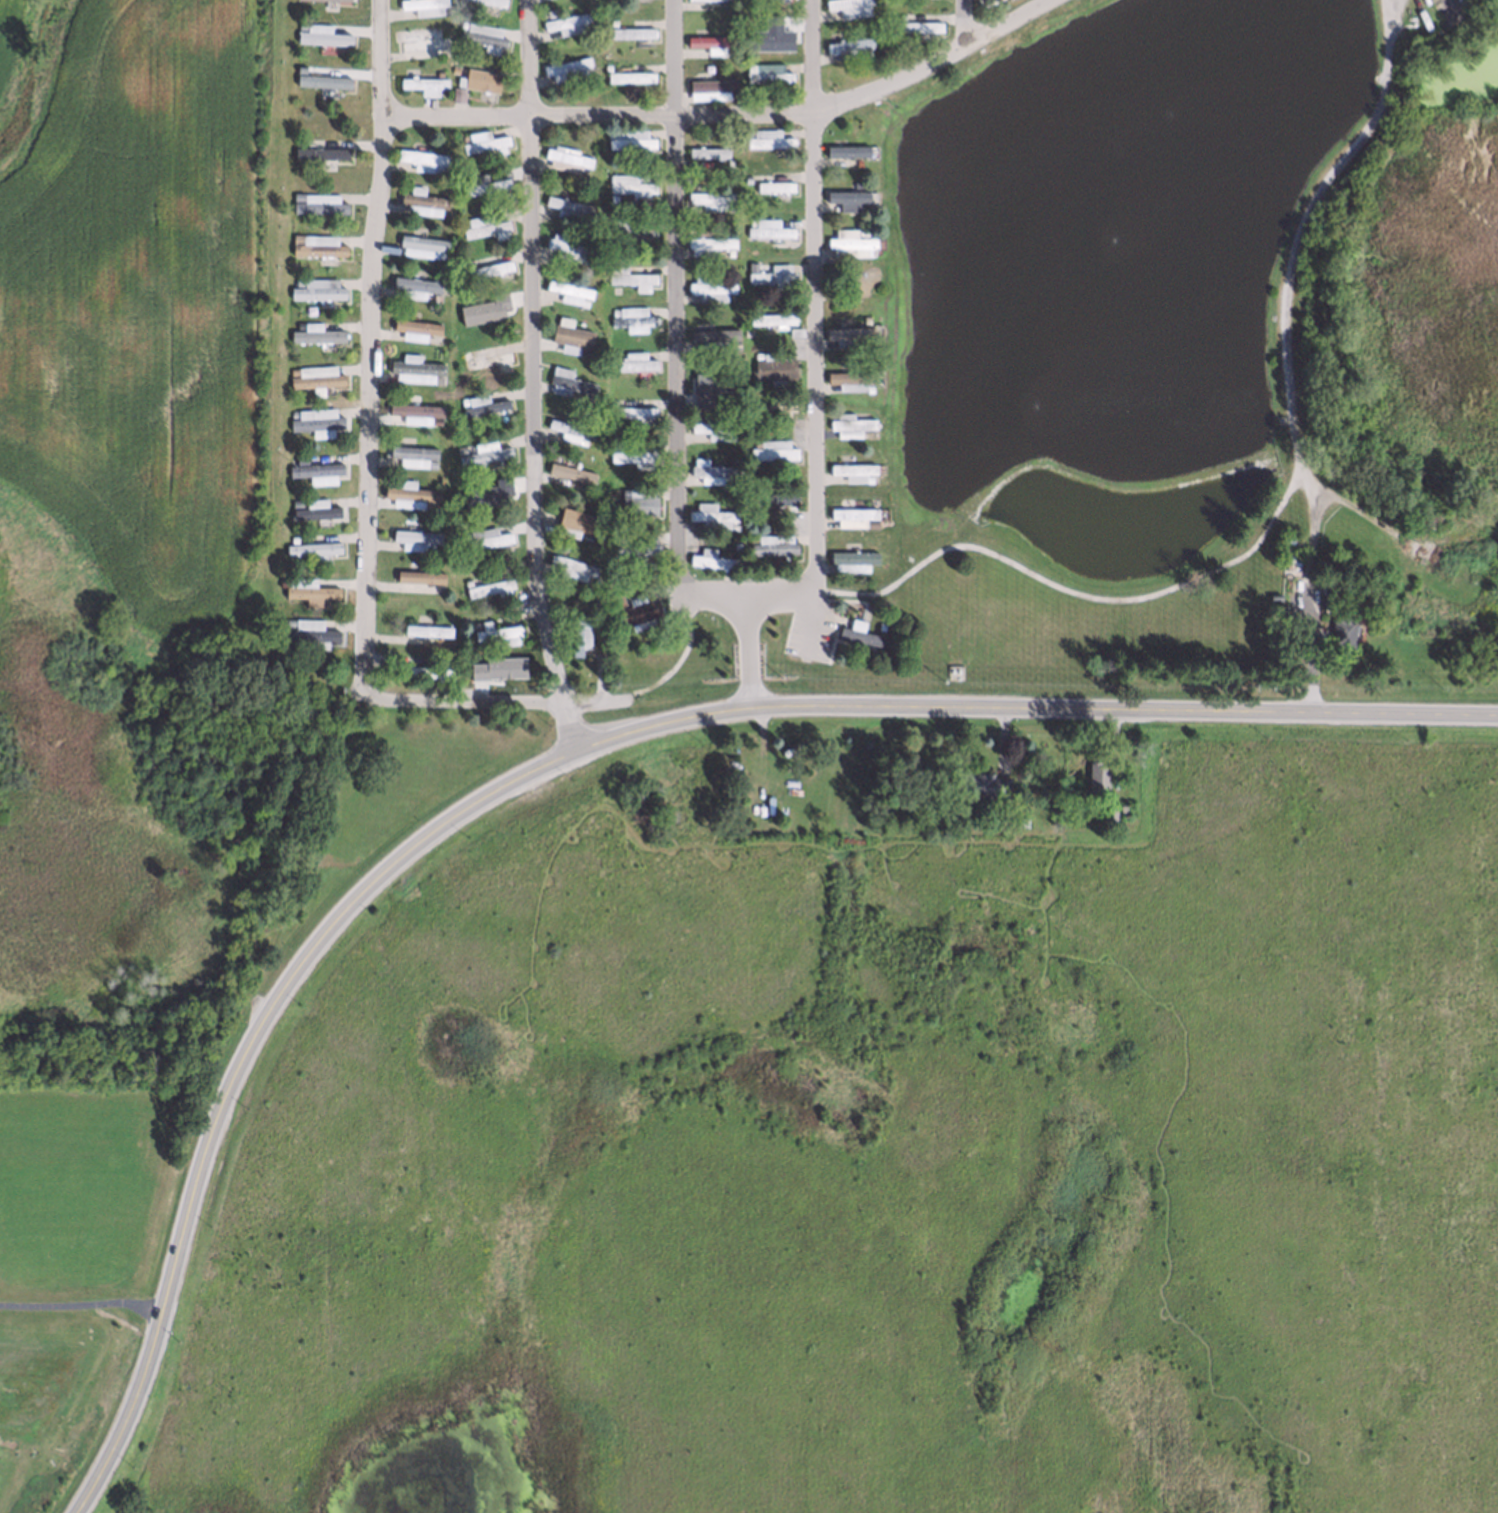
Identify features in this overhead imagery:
building: (332, 0)
building: (713, 0)
building: (982, 0)
building: (492, 1)
building: (988, 1)
building: (423, 4)
building: (727, 4)
building: (845, 5)
building: (447, 9)
building: (900, 17)
building: (567, 18)
building: (612, 20)
building: (458, 21)
building: (301, 22)
road: (962, 25)
building: (917, 26)
building: (322, 30)
building: (768, 30)
building: (630, 32)
building: (481, 36)
building: (418, 37)
building: (708, 40)
building: (775, 40)
building: (847, 43)
building: (726, 49)
building: (865, 53)
road: (533, 57)
building: (561, 63)
building: (749, 64)
building: (453, 67)
building: (437, 70)
building: (587, 70)
building: (477, 76)
building: (629, 76)
building: (768, 76)
building: (323, 77)
building: (423, 80)
building: (712, 84)
building: (456, 91)
road: (732, 115)
building: (608, 129)
building: (462, 135)
building: (483, 137)
building: (630, 138)
building: (768, 138)
building: (297, 139)
building: (321, 149)
building: (848, 151)
building: (707, 152)
building: (422, 155)
building: (565, 155)
building: (728, 162)
building: (849, 164)
building: (442, 167)
building: (582, 168)
building: (746, 177)
building: (482, 180)
building: (859, 181)
building: (774, 182)
building: (630, 185)
building: (297, 193)
building: (612, 195)
building: (849, 196)
building: (421, 197)
building: (712, 198)
building: (320, 200)
building: (566, 202)
building: (730, 206)
building: (445, 213)
building: (750, 219)
building: (460, 220)
building: (485, 223)
building: (630, 229)
building: (862, 229)
building: (769, 231)
building: (296, 234)
building: (319, 242)
building: (420, 242)
building: (850, 242)
building: (707, 244)
building: (566, 245)
building: (437, 252)
building: (730, 252)
building: (462, 261)
building: (750, 263)
building: (487, 265)
building: (491, 270)
building: (773, 275)
building: (629, 277)
building: (298, 279)
building: (413, 283)
building: (318, 286)
building: (567, 288)
building: (710, 289)
building: (433, 295)
building: (729, 297)
building: (582, 299)
building: (462, 304)
building: (613, 309)
building: (485, 310)
building: (866, 316)
building: (770, 317)
building: (632, 318)
building: (497, 319)
building: (299, 322)
building: (413, 325)
road: (680, 326)
road: (817, 328)
building: (795, 329)
building: (317, 330)
building: (569, 333)
building: (848, 334)
building: (712, 337)
road: (1282, 345)
road: (374, 350)
building: (585, 350)
building: (466, 353)
building: (612, 353)
building: (487, 358)
building: (632, 360)
building: (774, 364)
building: (413, 366)
building: (293, 369)
building: (316, 374)
building: (435, 377)
building: (565, 378)
building: (850, 379)
building: (710, 381)
building: (736, 387)
building: (706, 390)
building: (588, 395)
building: (612, 399)
building: (482, 402)
building: (771, 407)
building: (413, 409)
building: (292, 411)
building: (633, 411)
building: (866, 414)
building: (317, 419)
building: (434, 419)
building: (570, 425)
building: (850, 425)
building: (711, 428)
road: (534, 434)
building: (584, 440)
building: (756, 440)
building: (611, 444)
building: (459, 447)
building: (773, 449)
building: (632, 451)
building: (411, 452)
building: (483, 453)
building: (300, 457)
building: (429, 462)
building: (315, 466)
building: (709, 469)
building: (569, 471)
building: (851, 471)
building: (734, 479)
building: (756, 486)
building: (588, 487)
building: (464, 489)
building: (407, 491)
building: (484, 492)
building: (772, 497)
building: (295, 500)
building: (638, 504)
building: (432, 505)
building: (316, 507)
building: (852, 512)
building: (711, 515)
building: (571, 520)
building: (868, 522)
building: (734, 526)
building: (464, 533)
building: (485, 535)
building: (582, 535)
building: (751, 536)
building: (292, 537)
building: (414, 537)
building: (618, 538)
building: (772, 543)
building: (736, 544)
building: (312, 546)
building: (435, 546)
building: (634, 549)
building: (710, 557)
building: (849, 559)
building: (571, 565)
building: (865, 566)
building: (417, 574)
building: (594, 578)
building: (284, 579)
building: (465, 580)
building: (490, 585)
building: (439, 586)
building: (309, 588)
building: (1273, 595)
building: (595, 596)
building: (1325, 598)
building: (617, 600)
building: (1281, 609)
building: (638, 611)
road: (821, 613)
building: (288, 620)
building: (473, 623)
building: (880, 624)
building: (425, 627)
building: (311, 630)
building: (496, 630)
building: (1341, 630)
building: (578, 632)
building: (862, 633)
building: (429, 658)
road: (749, 658)
building: (507, 663)
building: (428, 669)
building: (493, 674)
road: (475, 702)
road: (1036, 710)
building: (1100, 777)
building: (989, 786)
road: (243, 1067)
road: (84, 1302)

